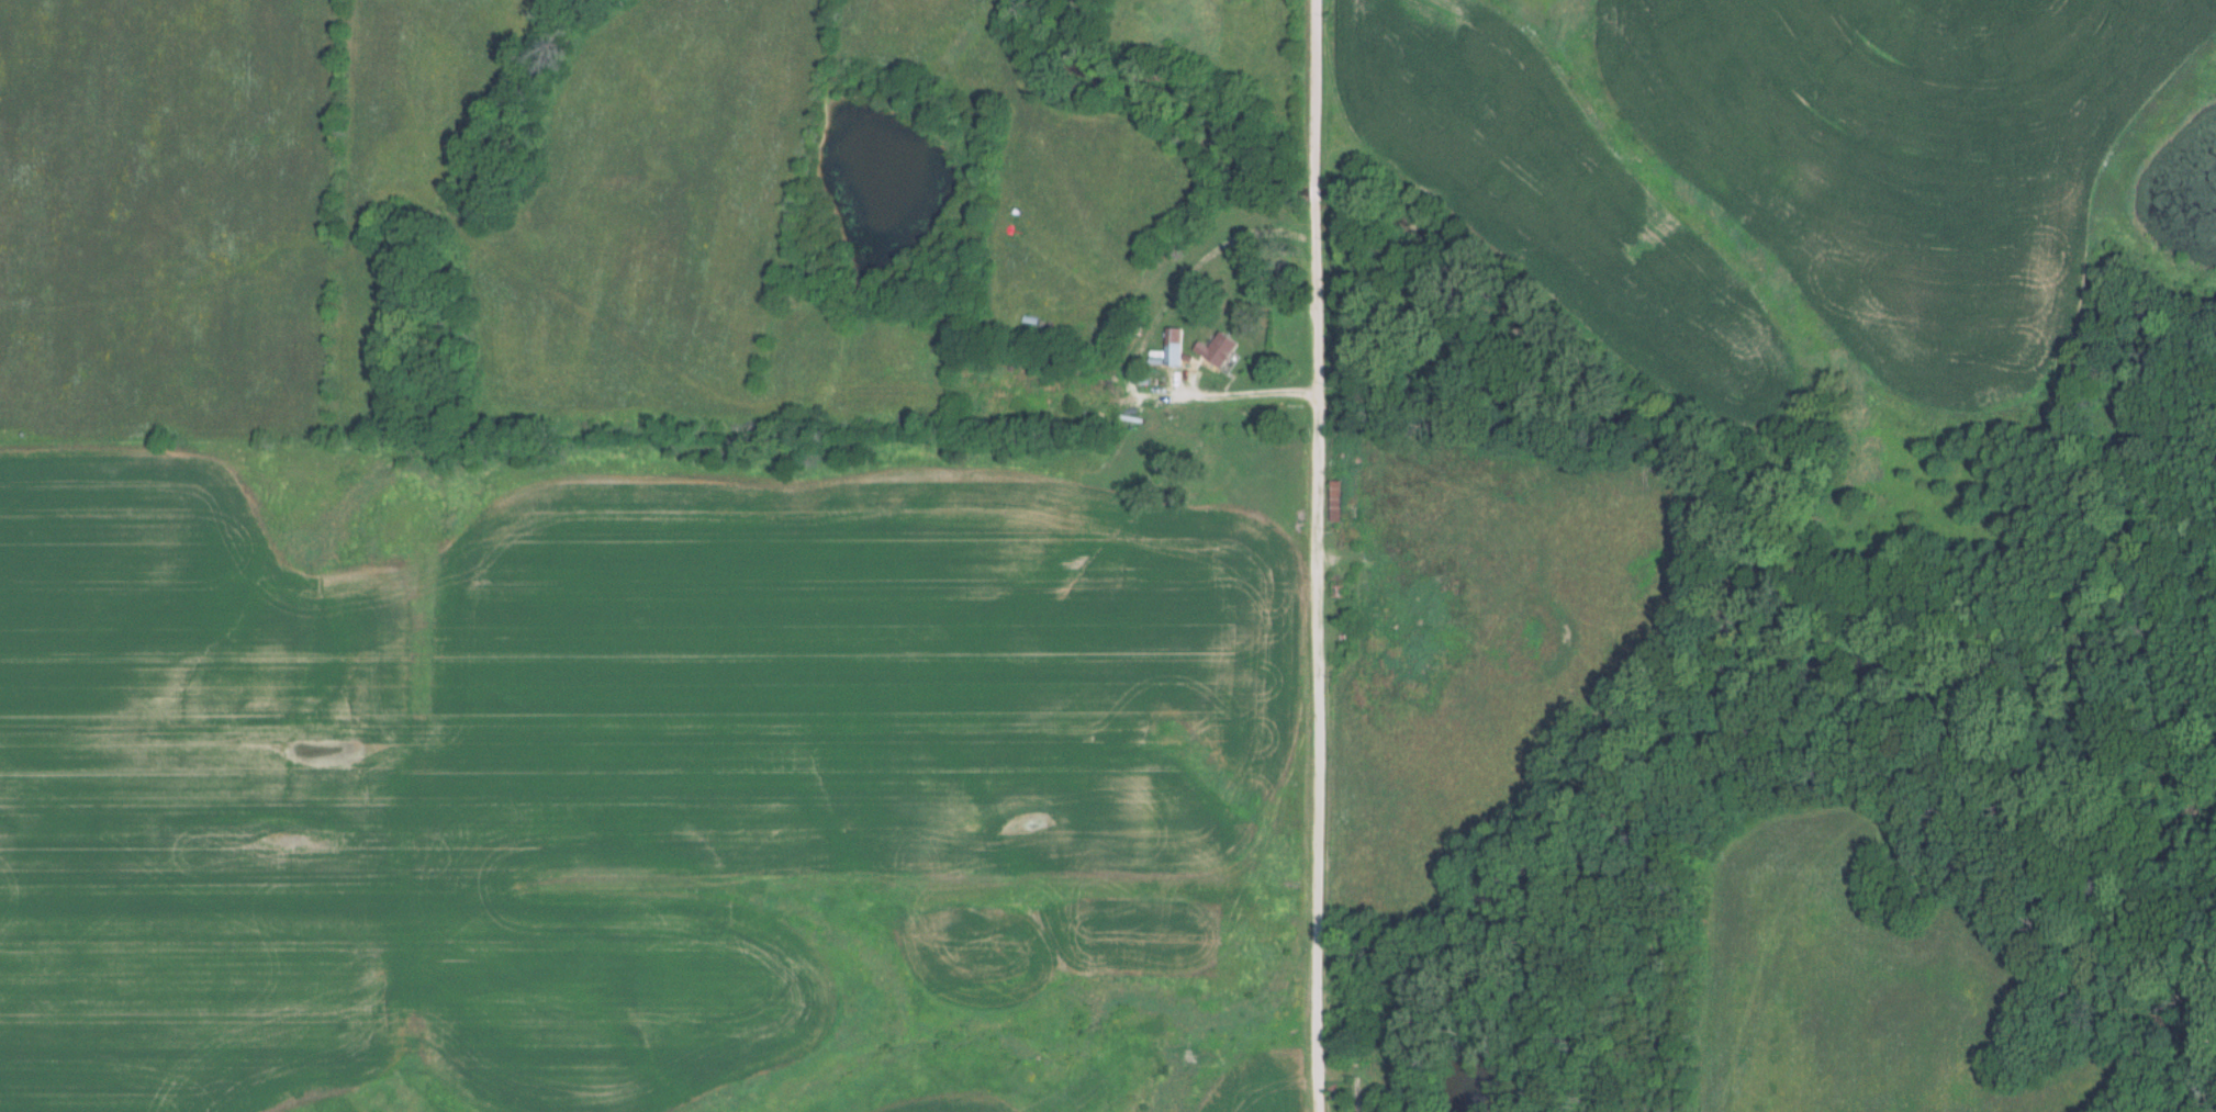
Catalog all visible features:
building: (1175, 347)
building: (1221, 348)
building: (1336, 499)
road: (1295, 555)

